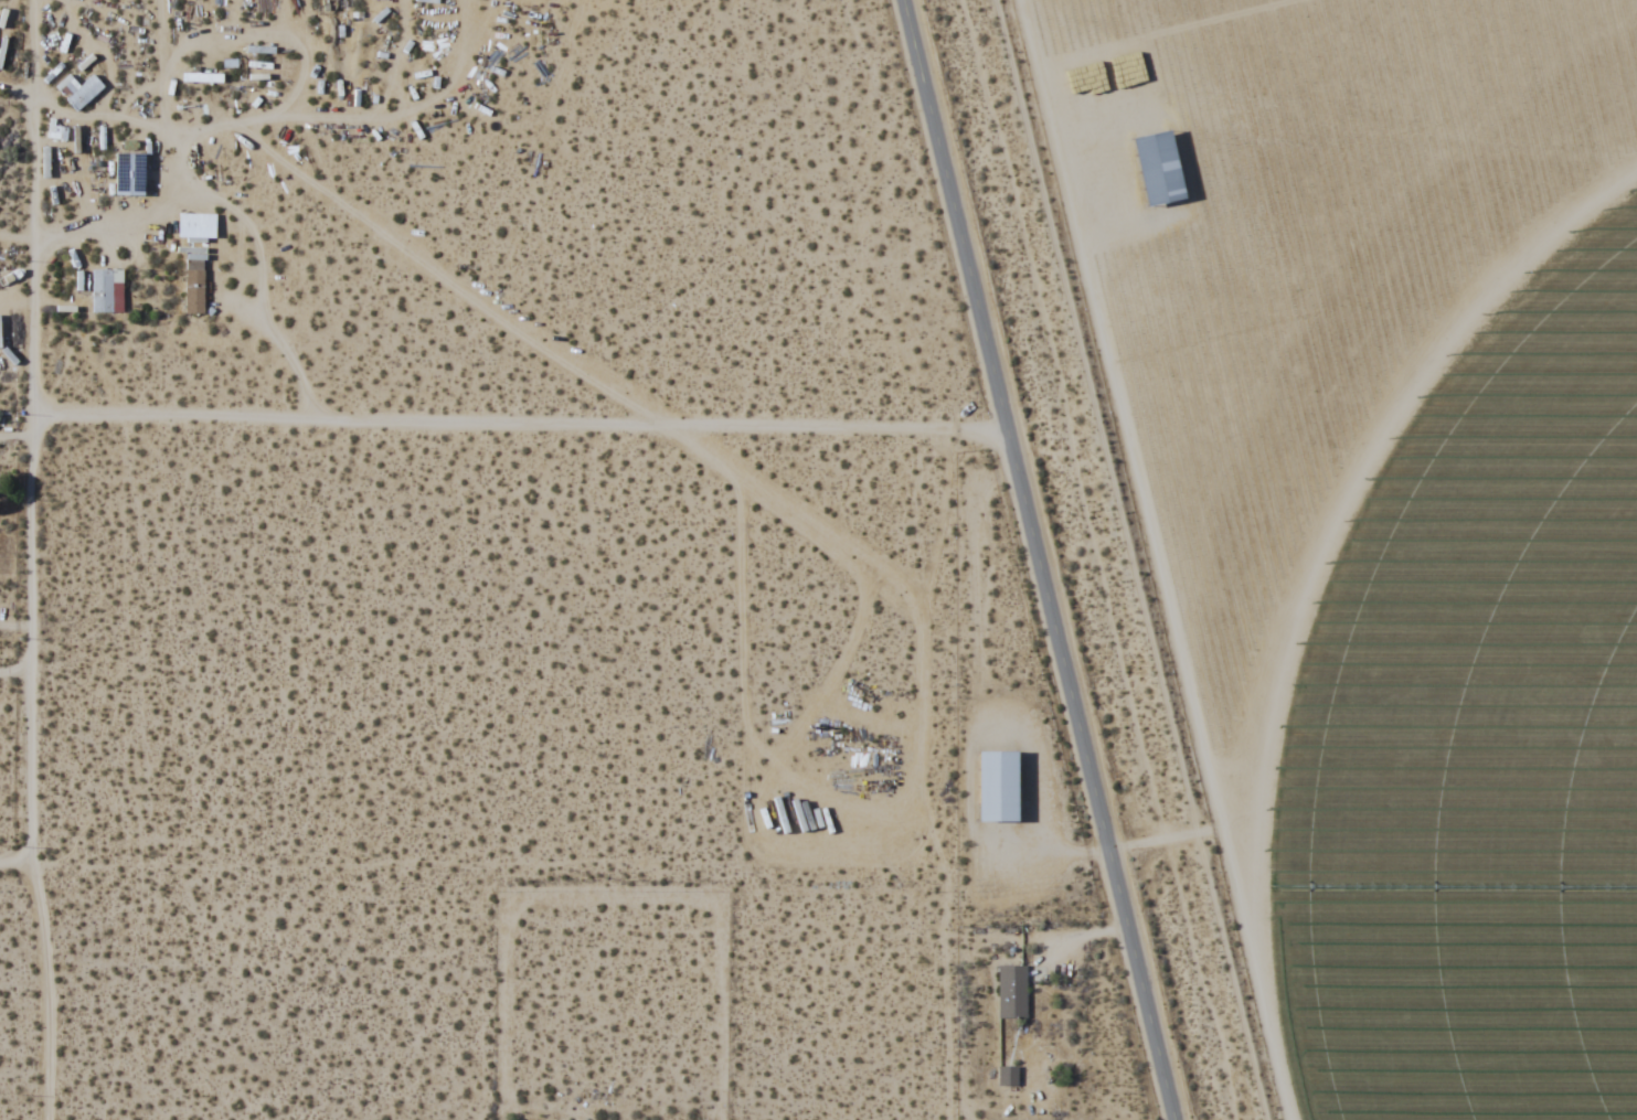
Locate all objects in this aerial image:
building: (334, 3)
building: (201, 76)
building: (84, 92)
building: (1159, 168)
building: (106, 290)
building: (193, 290)
road: (521, 427)
road: (33, 433)
road: (1039, 559)
crop: (1455, 711)
building: (999, 785)
road: (13, 866)
road: (49, 991)
building: (1011, 991)
building: (1007, 1075)

